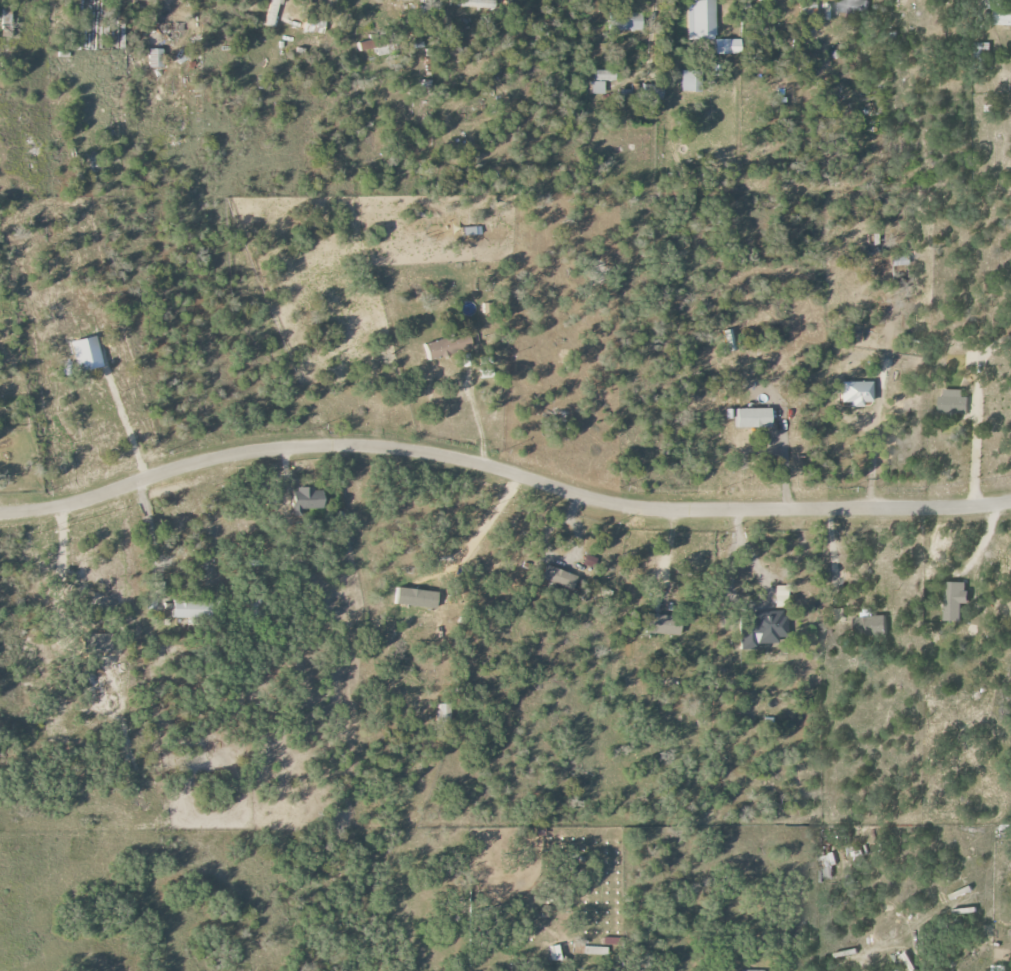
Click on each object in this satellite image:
building: (472, 3)
building: (852, 8)
building: (272, 13)
building: (1000, 13)
building: (6, 16)
building: (623, 20)
building: (700, 20)
building: (314, 25)
building: (374, 46)
building: (727, 46)
building: (156, 58)
building: (601, 81)
building: (690, 81)
building: (625, 95)
building: (469, 231)
building: (899, 260)
building: (729, 340)
building: (448, 346)
building: (857, 393)
building: (954, 404)
road: (475, 413)
building: (754, 418)
road: (125, 426)
road: (977, 439)
road: (784, 461)
road: (872, 462)
road: (502, 469)
building: (306, 500)
road: (149, 523)
road: (481, 531)
road: (832, 553)
road: (60, 574)
building: (558, 577)
road: (764, 595)
building: (781, 596)
building: (416, 598)
building: (956, 600)
building: (191, 609)
building: (663, 625)
building: (869, 627)
building: (97, 643)
building: (444, 712)
building: (828, 865)
building: (594, 950)
building: (555, 953)
building: (1001, 968)

